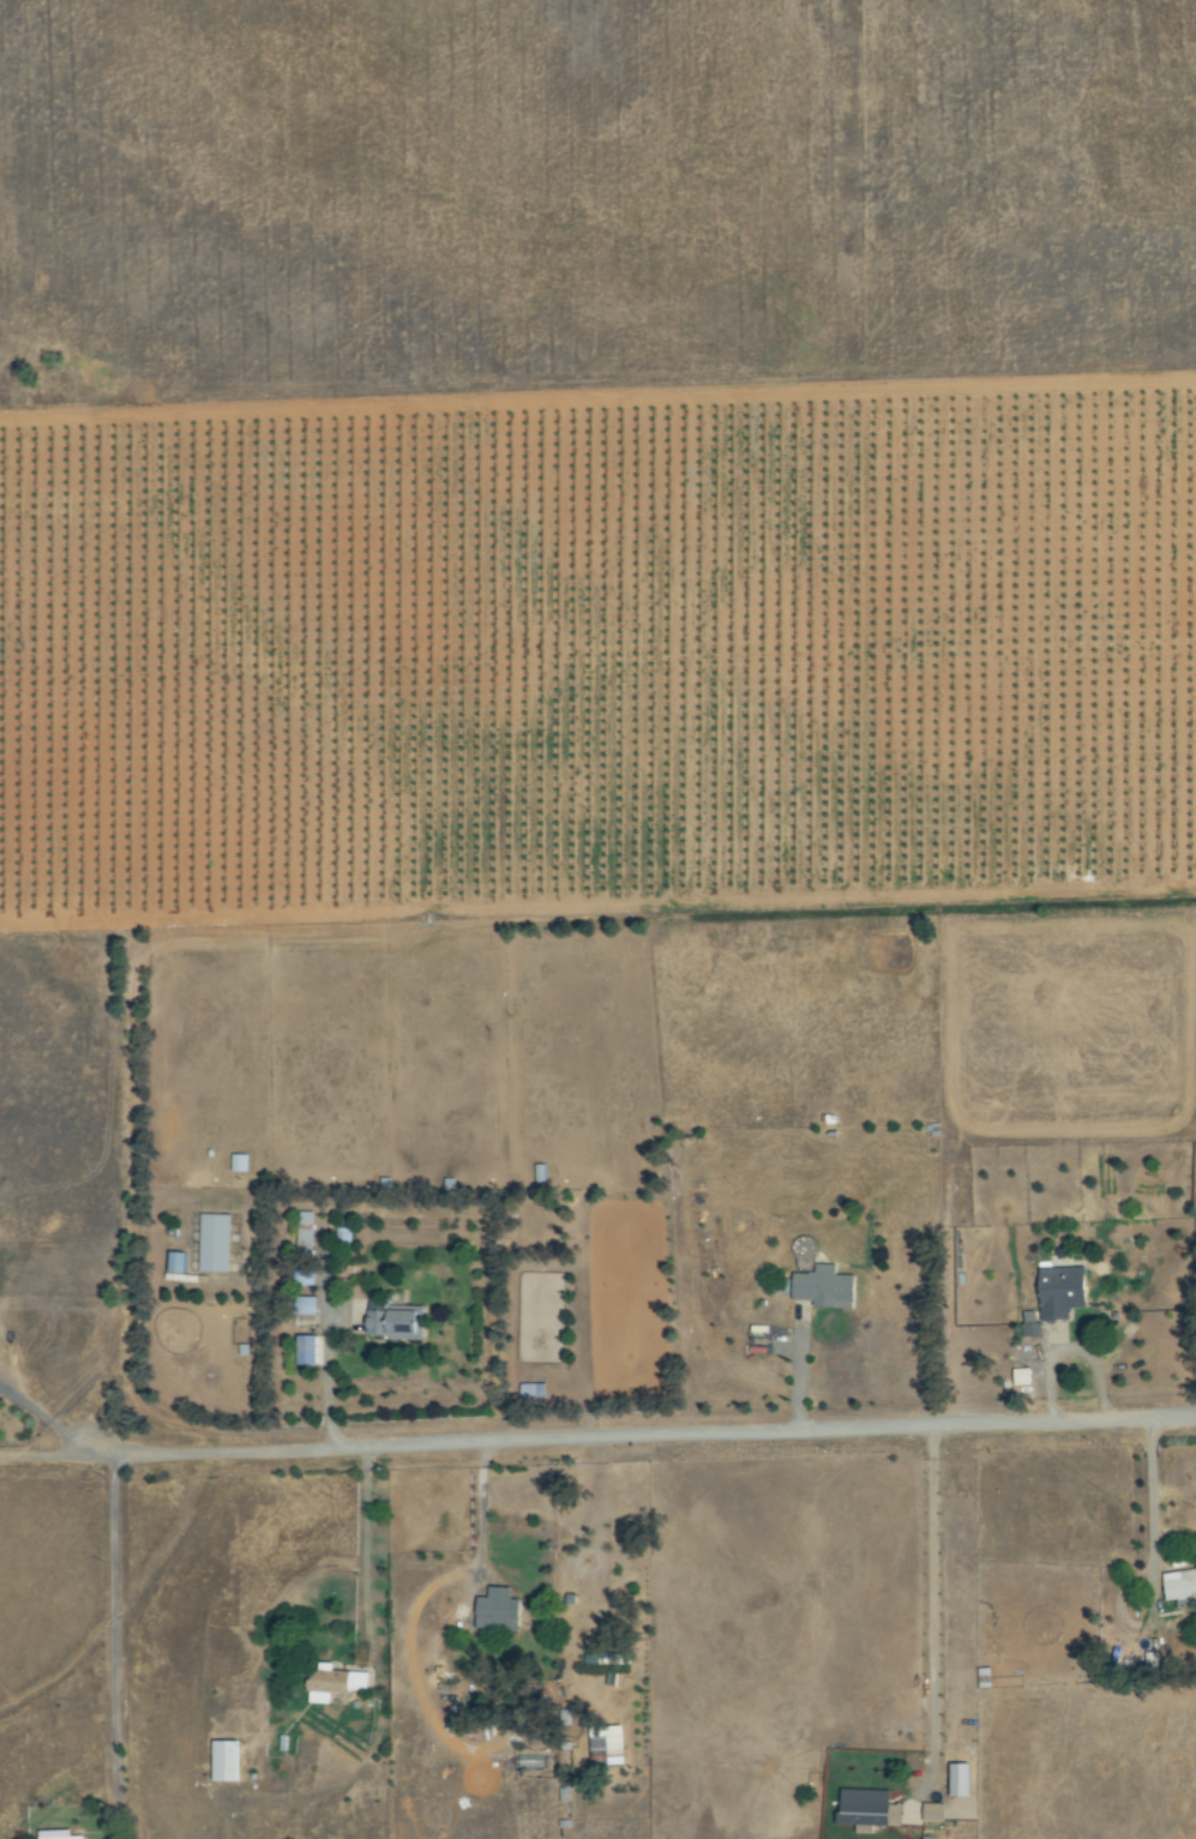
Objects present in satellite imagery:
building: (239, 1164)
building: (306, 1234)
building: (215, 1244)
building: (178, 1263)
building: (825, 1288)
building: (1062, 1292)
building: (306, 1306)
building: (395, 1321)
building: (1032, 1324)
building: (307, 1351)
building: (1023, 1377)
road: (46, 1418)
road: (1000, 1425)
road: (438, 1443)
road: (479, 1507)
road: (1152, 1507)
building: (1180, 1585)
building: (1182, 1606)
building: (498, 1615)
road: (108, 1621)
building: (335, 1684)
building: (226, 1761)
building: (870, 1809)
building: (934, 1814)
building: (56, 1835)

